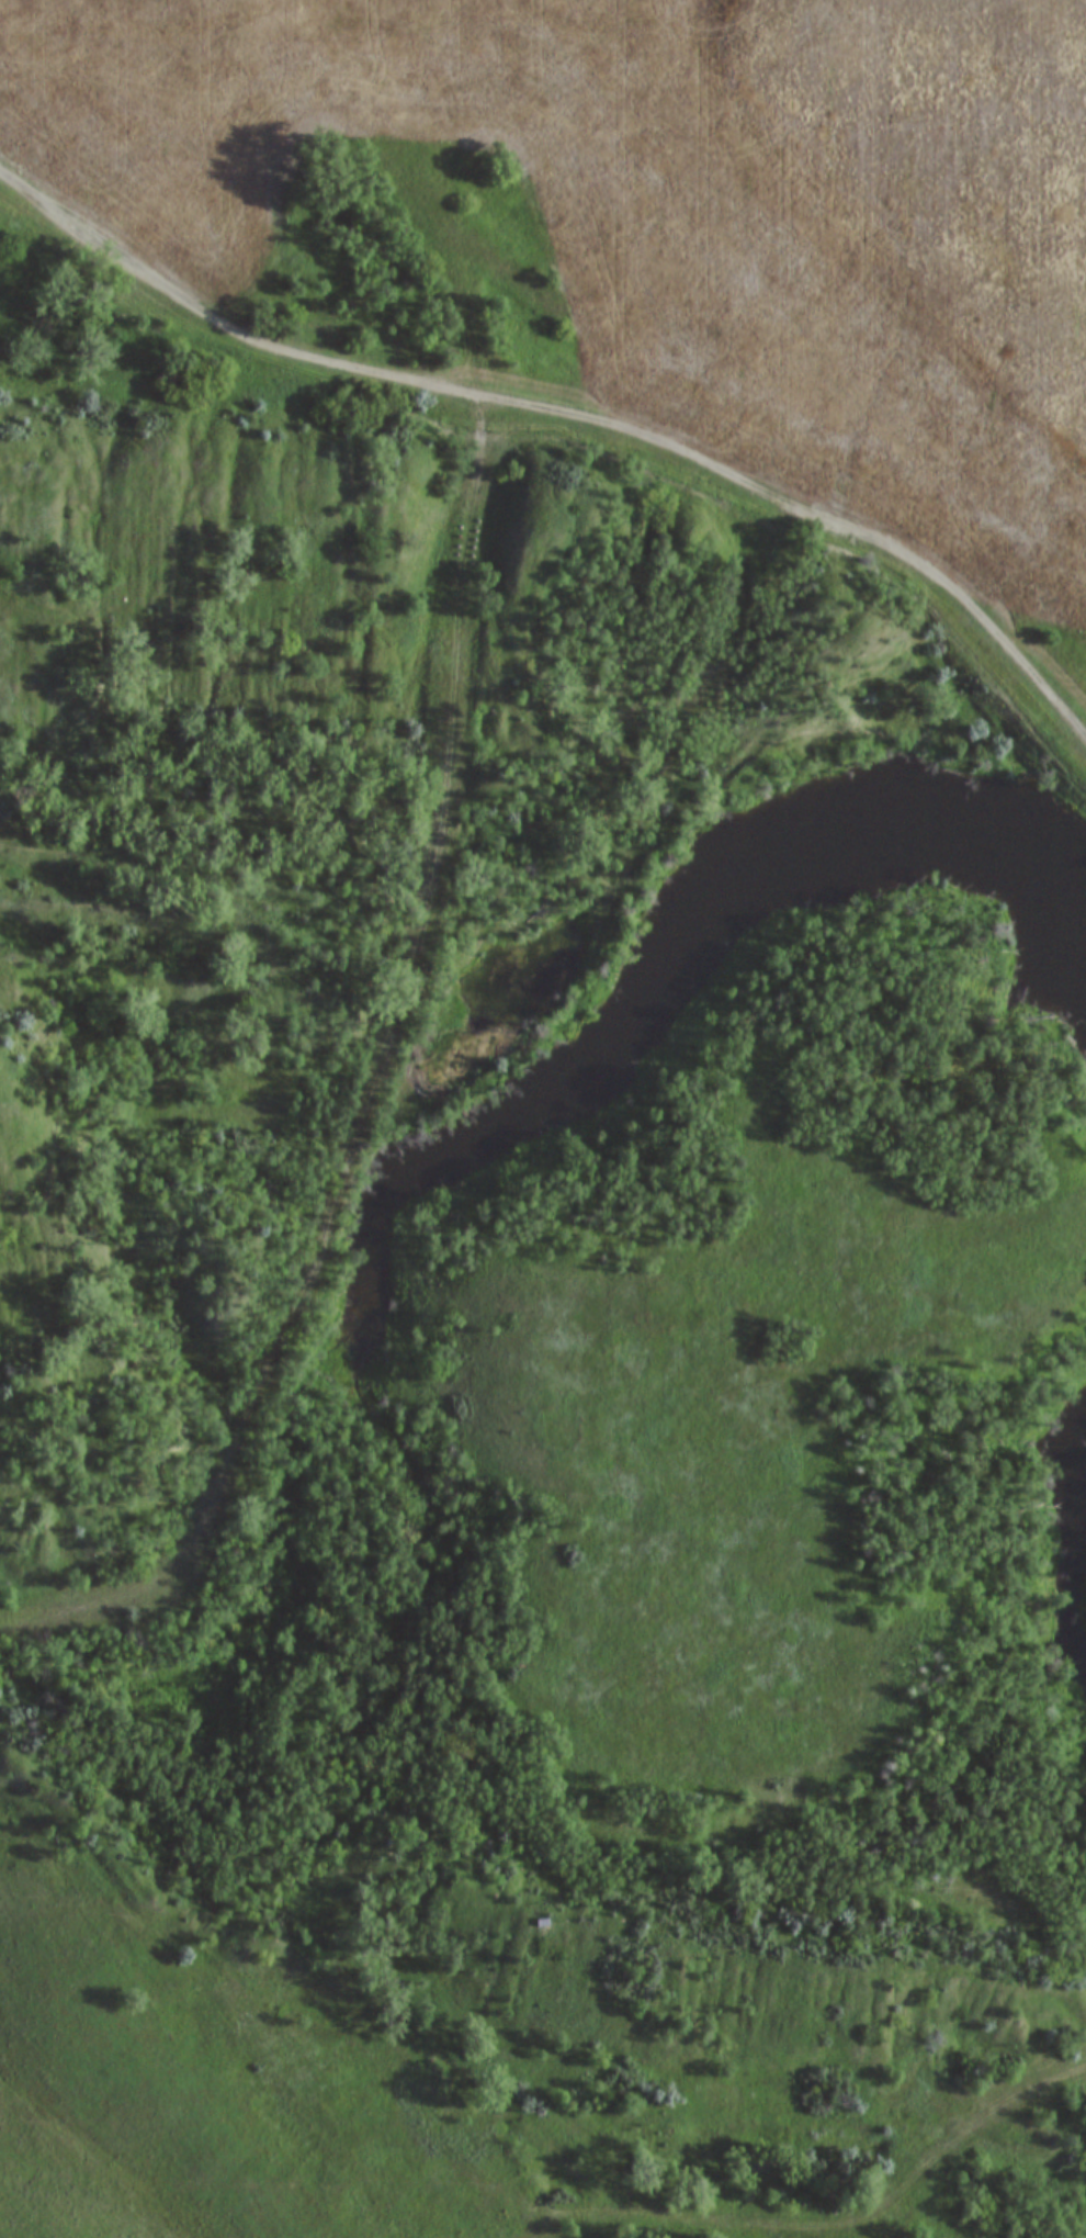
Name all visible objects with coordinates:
road: (461, 329)
road: (566, 411)
road: (371, 1090)
quarry: (518, 1272)
road: (271, 2188)
road: (830, 2222)

